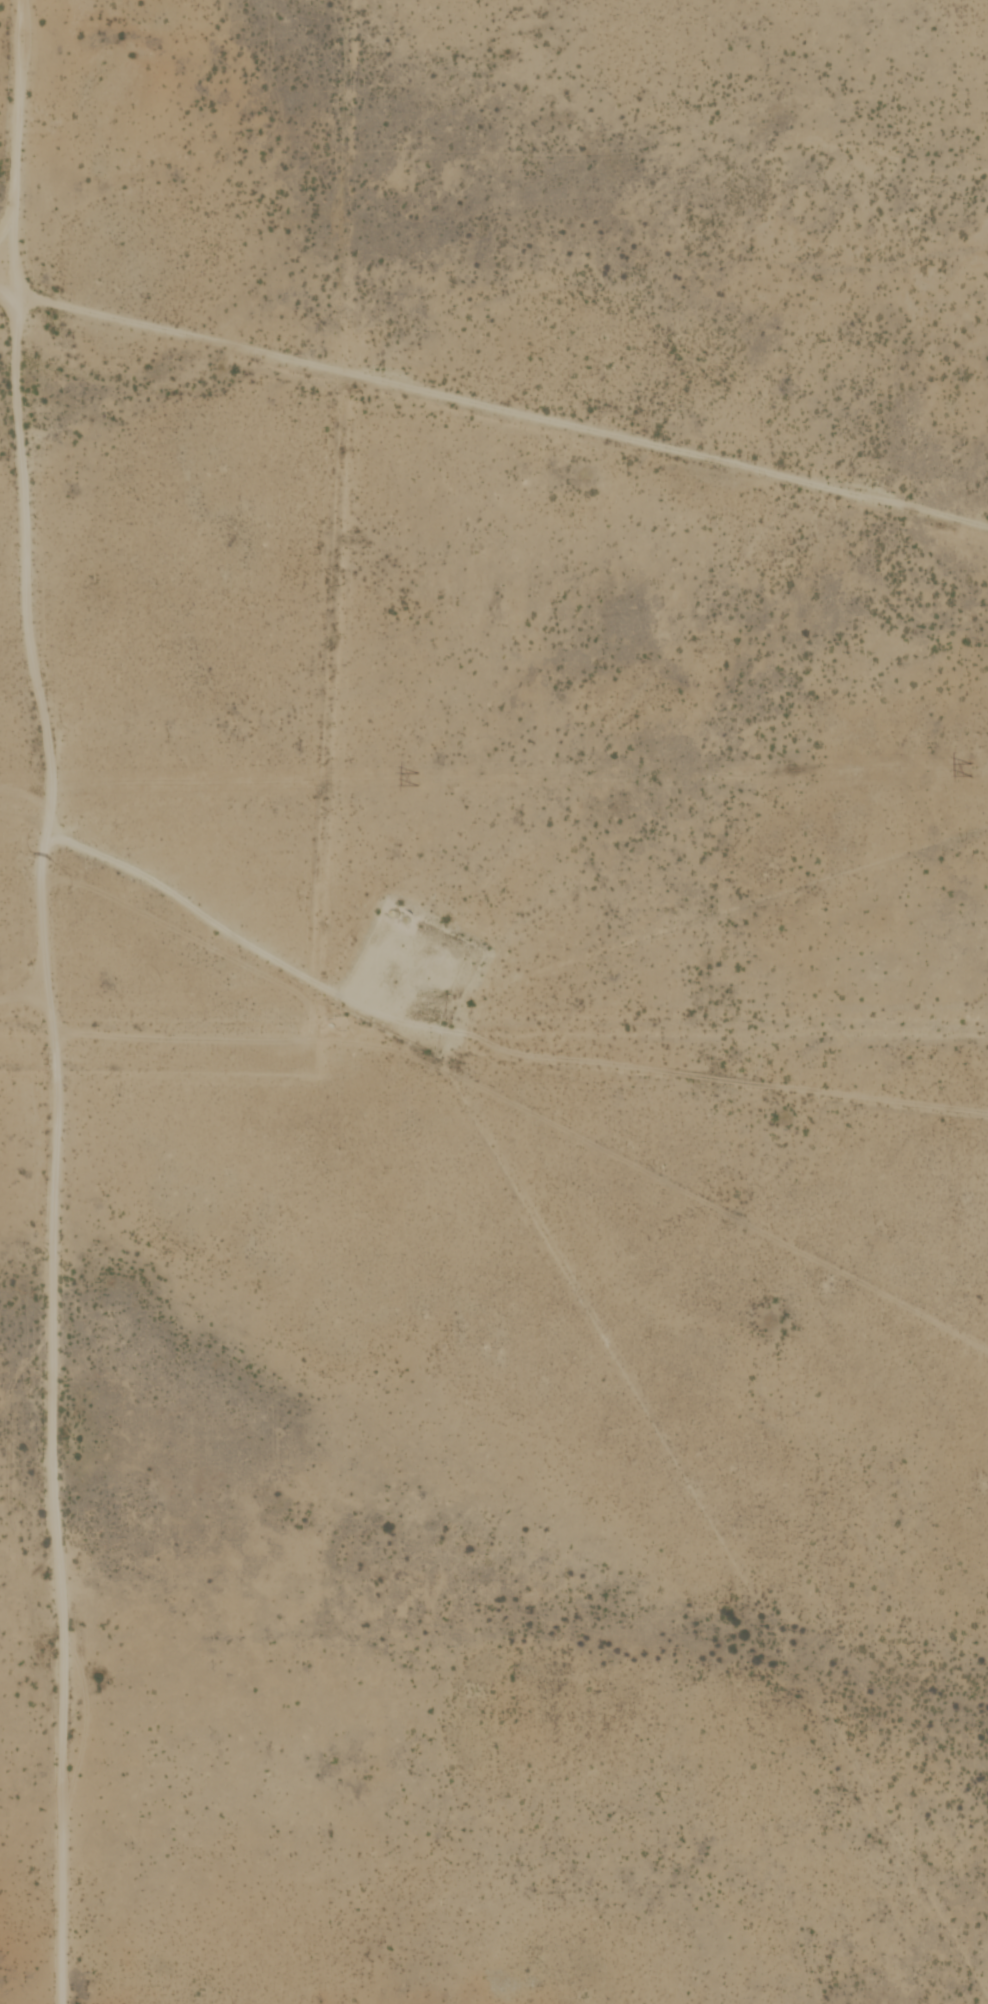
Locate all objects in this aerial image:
road: (17, 114)
road: (494, 408)
power tower: (968, 768)
power tower: (414, 779)
road: (251, 935)
road: (20, 993)
road: (56, 1145)

